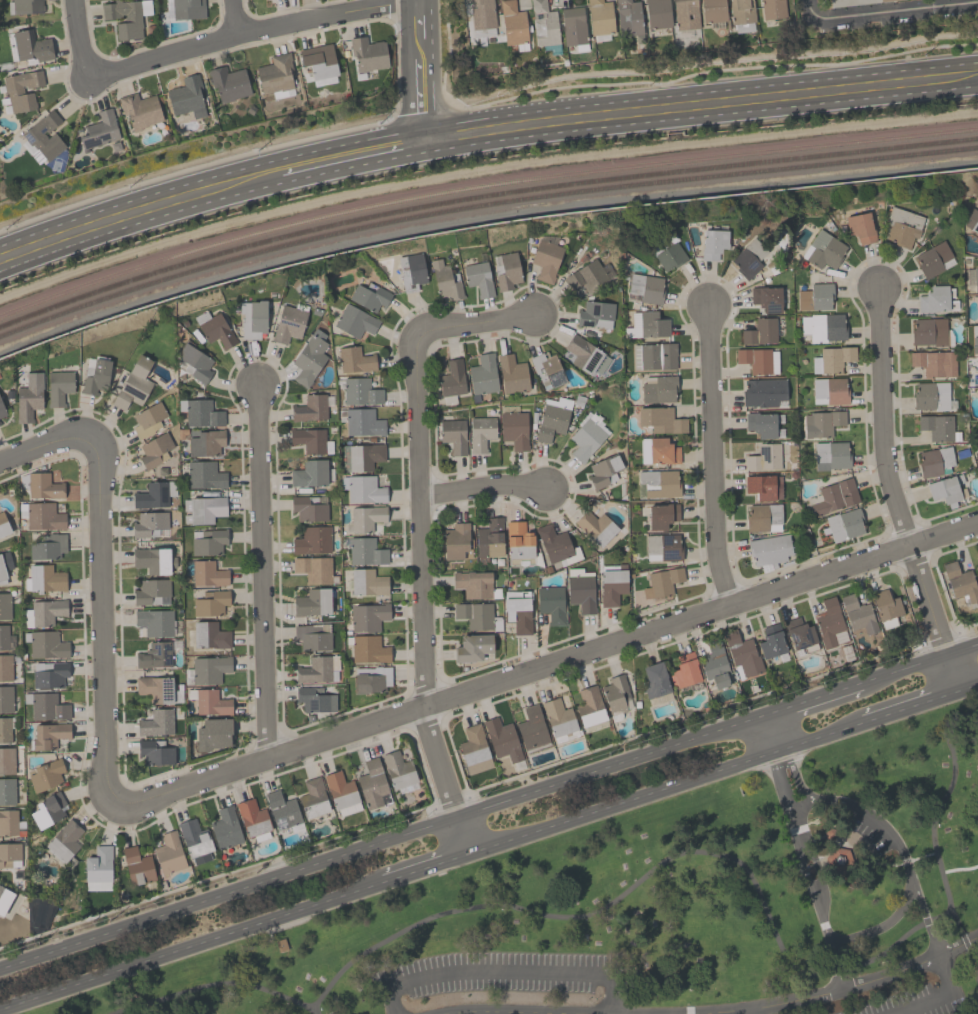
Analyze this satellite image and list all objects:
building: (851, 2)
building: (24, 6)
building: (772, 8)
building: (187, 9)
road: (887, 9)
building: (712, 10)
building: (741, 11)
building: (481, 13)
building: (657, 13)
building: (685, 14)
building: (126, 17)
road: (232, 17)
building: (599, 17)
building: (627, 17)
building: (512, 23)
building: (543, 23)
road: (430, 26)
building: (573, 27)
road: (405, 29)
road: (246, 31)
road: (77, 40)
building: (31, 46)
building: (367, 53)
building: (318, 60)
building: (276, 76)
building: (228, 82)
road: (966, 85)
building: (21, 90)
building: (186, 96)
road: (433, 100)
road: (407, 106)
building: (139, 109)
road: (481, 116)
road: (694, 116)
building: (99, 129)
building: (42, 137)
railway: (955, 147)
road: (327, 172)
railway: (481, 186)
railway: (481, 194)
railway: (458, 207)
building: (970, 218)
building: (902, 226)
building: (860, 227)
building: (974, 231)
road: (109, 232)
building: (713, 243)
building: (822, 250)
building: (670, 256)
building: (748, 258)
building: (545, 259)
building: (932, 259)
building: (411, 271)
building: (506, 271)
building: (587, 276)
building: (478, 278)
building: (975, 278)
building: (445, 280)
building: (644, 288)
building: (369, 296)
building: (815, 296)
building: (766, 298)
building: (936, 299)
building: (595, 314)
building: (252, 318)
building: (354, 321)
road: (473, 321)
building: (288, 322)
building: (646, 325)
building: (823, 326)
building: (214, 328)
building: (760, 331)
building: (928, 331)
building: (975, 344)
building: (585, 355)
building: (654, 355)
building: (309, 357)
building: (758, 359)
building: (831, 359)
building: (355, 360)
building: (194, 361)
building: (934, 363)
building: (546, 370)
building: (511, 373)
building: (483, 374)
building: (95, 376)
building: (451, 378)
building: (133, 383)
building: (58, 387)
building: (658, 388)
building: (829, 390)
building: (360, 391)
building: (763, 391)
building: (930, 395)
building: (28, 397)
building: (309, 407)
building: (2, 410)
building: (200, 412)
building: (553, 418)
building: (148, 419)
building: (661, 420)
building: (360, 421)
building: (760, 423)
building: (821, 423)
building: (938, 427)
building: (514, 429)
building: (480, 433)
building: (453, 435)
building: (586, 436)
road: (47, 439)
building: (308, 439)
building: (205, 441)
building: (154, 450)
building: (658, 451)
road: (712, 452)
building: (364, 455)
building: (830, 455)
building: (764, 457)
building: (935, 461)
building: (603, 471)
building: (310, 473)
building: (204, 475)
building: (659, 483)
building: (43, 485)
road: (481, 486)
building: (763, 486)
building: (946, 488)
building: (363, 489)
road: (893, 493)
building: (154, 494)
building: (833, 496)
building: (308, 508)
building: (203, 509)
building: (41, 515)
building: (661, 515)
building: (366, 517)
road: (418, 517)
building: (763, 517)
building: (148, 524)
building: (843, 524)
building: (3, 525)
building: (595, 526)
building: (488, 539)
building: (312, 540)
building: (457, 541)
building: (208, 542)
building: (553, 542)
building: (520, 544)
building: (47, 546)
building: (663, 547)
building: (768, 549)
building: (365, 551)
building: (151, 559)
building: (4, 565)
building: (313, 568)
road: (261, 570)
building: (976, 570)
building: (208, 573)
building: (44, 579)
building: (367, 581)
building: (661, 581)
building: (960, 582)
building: (475, 584)
building: (612, 586)
building: (151, 591)
building: (581, 592)
building: (210, 602)
building: (312, 602)
building: (550, 603)
building: (5, 605)
building: (885, 608)
building: (518, 611)
building: (44, 612)
building: (474, 614)
building: (858, 614)
building: (368, 616)
road: (101, 620)
building: (155, 621)
building: (828, 621)
building: (800, 634)
building: (209, 635)
building: (3, 636)
building: (312, 636)
building: (771, 641)
building: (45, 644)
building: (472, 647)
building: (368, 649)
building: (154, 655)
building: (742, 655)
road: (544, 664)
building: (715, 665)
road: (914, 666)
building: (5, 667)
building: (317, 668)
building: (206, 669)
building: (685, 670)
building: (49, 674)
building: (371, 679)
building: (655, 682)
building: (155, 688)
road: (967, 688)
building: (616, 696)
building: (5, 698)
building: (314, 699)
road: (807, 700)
building: (208, 701)
building: (45, 705)
road: (913, 706)
building: (589, 708)
building: (559, 720)
building: (156, 722)
building: (4, 729)
building: (532, 729)
building: (213, 733)
road: (770, 734)
building: (48, 735)
building: (501, 739)
building: (474, 749)
building: (154, 752)
building: (6, 760)
building: (398, 769)
building: (45, 774)
road: (446, 780)
building: (372, 785)
road: (670, 788)
building: (340, 790)
building: (7, 791)
building: (313, 797)
road: (799, 804)
building: (48, 809)
building: (282, 810)
building: (251, 817)
building: (8, 822)
building: (225, 827)
road: (884, 828)
building: (194, 840)
building: (63, 841)
road: (381, 842)
road: (933, 845)
building: (9, 853)
building: (168, 853)
building: (98, 864)
building: (137, 865)
road: (431, 868)
road: (959, 868)
road: (806, 870)
road: (647, 873)
building: (4, 898)
park: (658, 907)
road: (884, 926)
road: (196, 946)
road: (501, 973)
road: (218, 986)
road: (945, 997)
road: (746, 1011)
road: (971, 1011)
road: (723, 1012)

